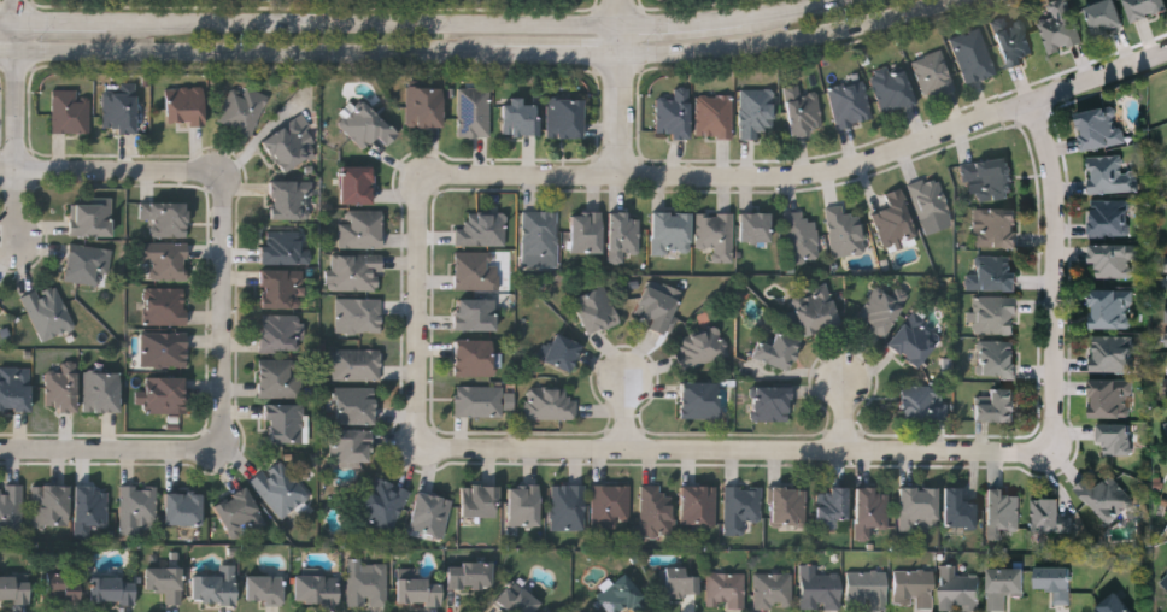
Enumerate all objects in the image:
building: (1147, 7)
road: (790, 10)
road: (22, 11)
road: (621, 13)
building: (1106, 16)
road: (11, 20)
road: (65, 22)
road: (682, 23)
road: (365, 24)
building: (1061, 25)
building: (1013, 40)
building: (973, 55)
road: (480, 57)
building: (934, 73)
building: (892, 88)
road: (19, 93)
road: (622, 100)
building: (851, 102)
building: (424, 105)
building: (186, 106)
building: (121, 107)
building: (244, 110)
building: (474, 111)
building: (757, 111)
building: (804, 111)
building: (71, 112)
building: (674, 114)
building: (715, 116)
building: (521, 117)
building: (565, 117)
building: (368, 125)
building: (1102, 126)
building: (292, 143)
road: (111, 166)
building: (1110, 173)
building: (991, 177)
road: (807, 178)
building: (357, 184)
building: (930, 199)
building: (292, 200)
road: (20, 202)
building: (1110, 217)
building: (92, 218)
building: (165, 218)
building: (896, 218)
building: (996, 226)
building: (755, 228)
building: (362, 229)
building: (482, 230)
building: (587, 231)
building: (845, 231)
building: (541, 234)
building: (672, 234)
building: (716, 234)
building: (623, 235)
building: (802, 237)
building: (285, 247)
building: (165, 259)
building: (1113, 260)
building: (88, 264)
building: (1166, 264)
building: (477, 271)
building: (357, 272)
building: (996, 272)
road: (1050, 281)
building: (282, 289)
building: (1, 301)
building: (166, 306)
building: (1112, 307)
building: (596, 310)
building: (657, 310)
building: (815, 310)
building: (881, 310)
building: (48, 311)
road: (225, 311)
road: (424, 313)
building: (996, 314)
building: (1166, 314)
building: (360, 316)
building: (476, 316)
building: (281, 333)
building: (915, 340)
building: (704, 346)
building: (165, 349)
building: (778, 351)
building: (563, 353)
building: (1113, 353)
building: (474, 358)
building: (998, 359)
building: (357, 364)
building: (281, 377)
building: (1166, 386)
building: (14, 388)
building: (63, 389)
building: (102, 392)
building: (166, 394)
building: (1112, 398)
building: (700, 400)
building: (480, 401)
building: (923, 402)
building: (552, 404)
building: (770, 404)
building: (356, 406)
building: (998, 406)
road: (631, 420)
building: (286, 423)
building: (1166, 423)
road: (849, 424)
building: (1118, 439)
building: (351, 448)
road: (107, 449)
road: (739, 452)
building: (280, 488)
building: (1107, 496)
building: (480, 499)
building: (833, 502)
building: (51, 504)
building: (699, 504)
building: (524, 505)
building: (743, 505)
building: (788, 505)
building: (385, 506)
building: (569, 506)
building: (612, 506)
building: (919, 506)
building: (90, 507)
building: (139, 507)
building: (183, 507)
building: (958, 507)
building: (1004, 507)
building: (11, 510)
building: (873, 510)
building: (657, 511)
building: (239, 512)
building: (430, 513)
building: (1051, 513)
building: (470, 573)
building: (1165, 578)
building: (1055, 581)
building: (165, 582)
building: (368, 582)
building: (679, 583)
building: (1005, 583)
building: (216, 585)
building: (14, 588)
building: (63, 588)
building: (113, 588)
building: (265, 588)
building: (915, 588)
building: (316, 589)
building: (820, 589)
building: (867, 589)
building: (960, 589)
building: (420, 590)
building: (727, 590)
building: (774, 590)
building: (620, 594)
building: (517, 598)
building: (1114, 604)

